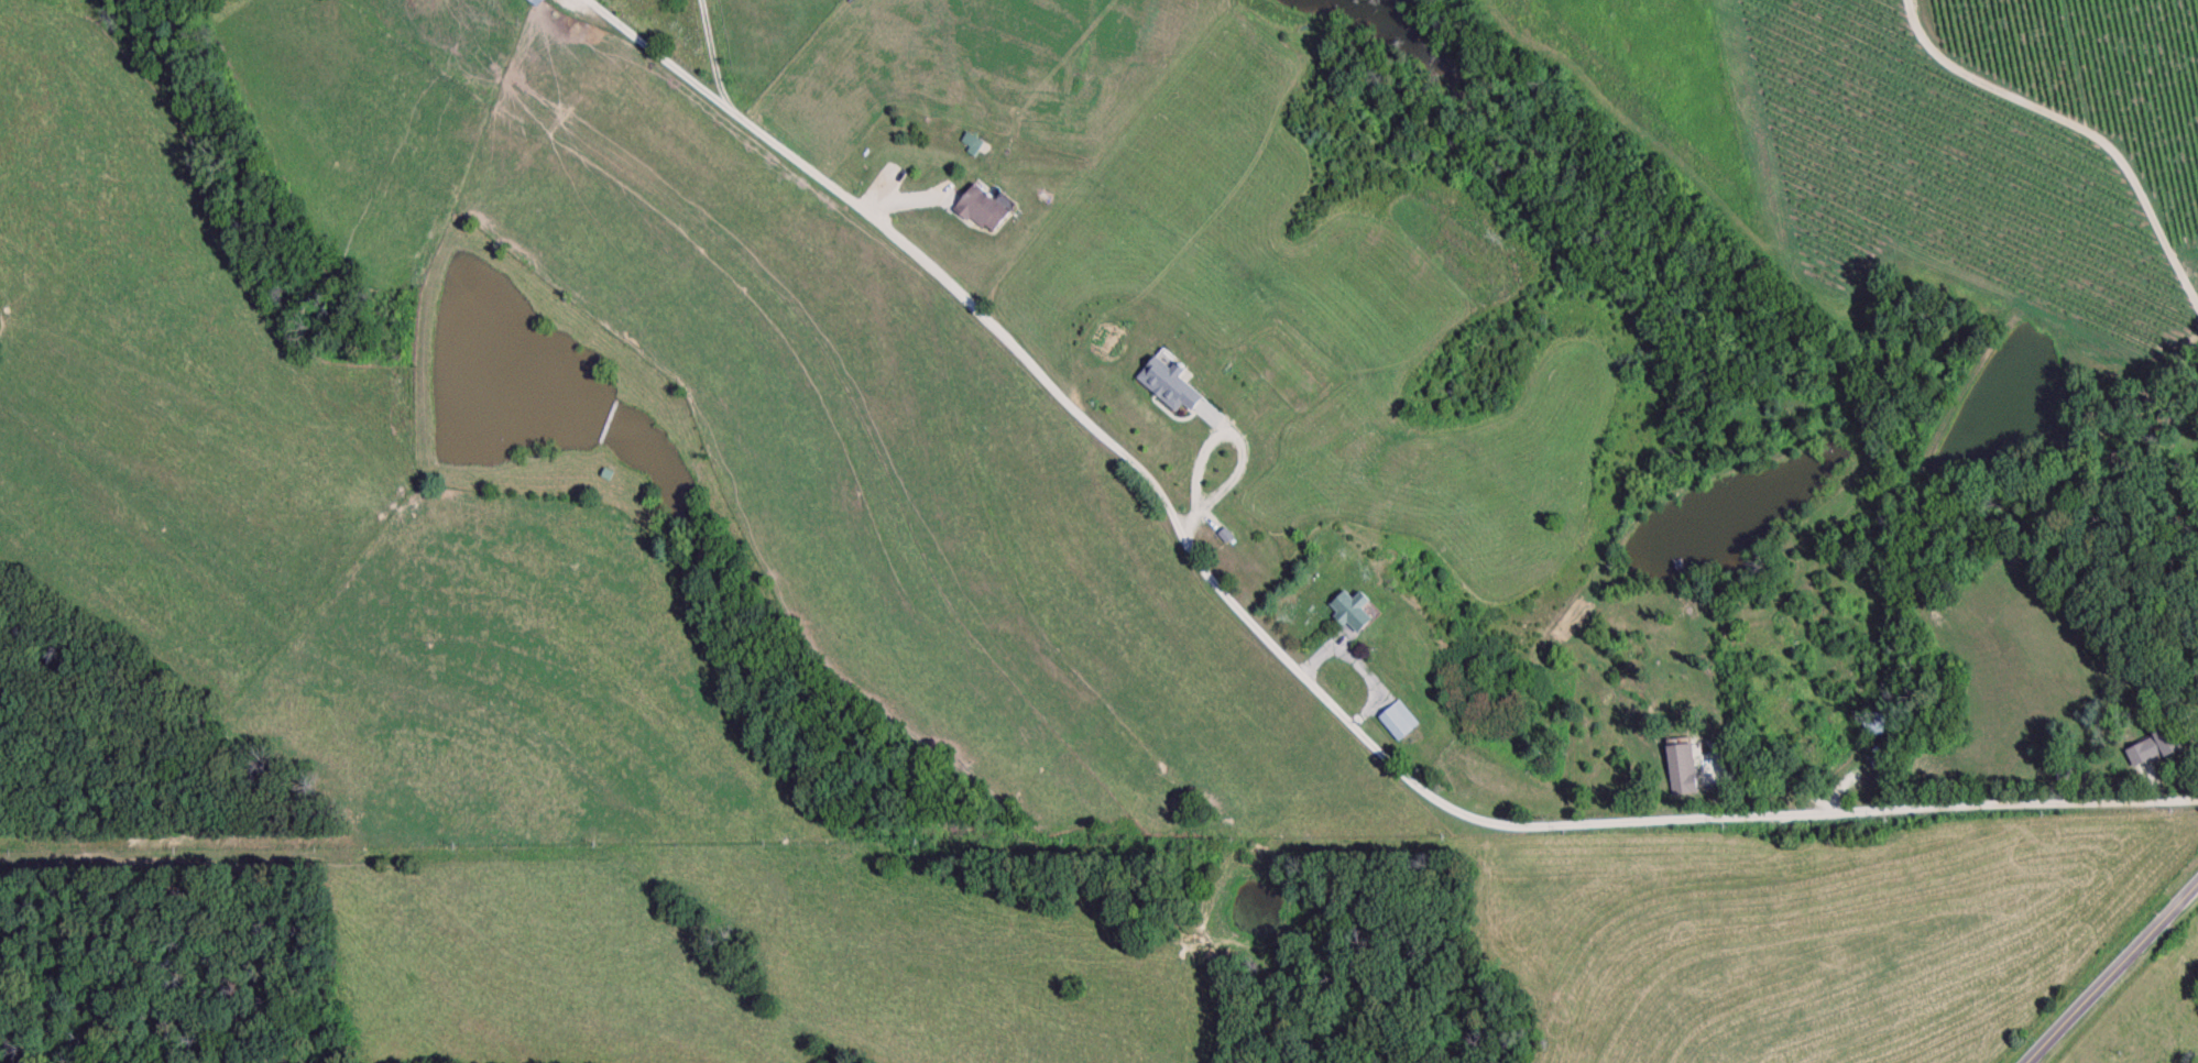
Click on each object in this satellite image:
building: (531, 1)
building: (543, 1)
road: (720, 52)
building: (984, 212)
building: (1171, 386)
building: (1354, 612)
road: (1314, 655)
building: (1400, 723)
building: (1874, 726)
building: (2153, 750)
building: (1675, 761)
road: (2144, 1000)

